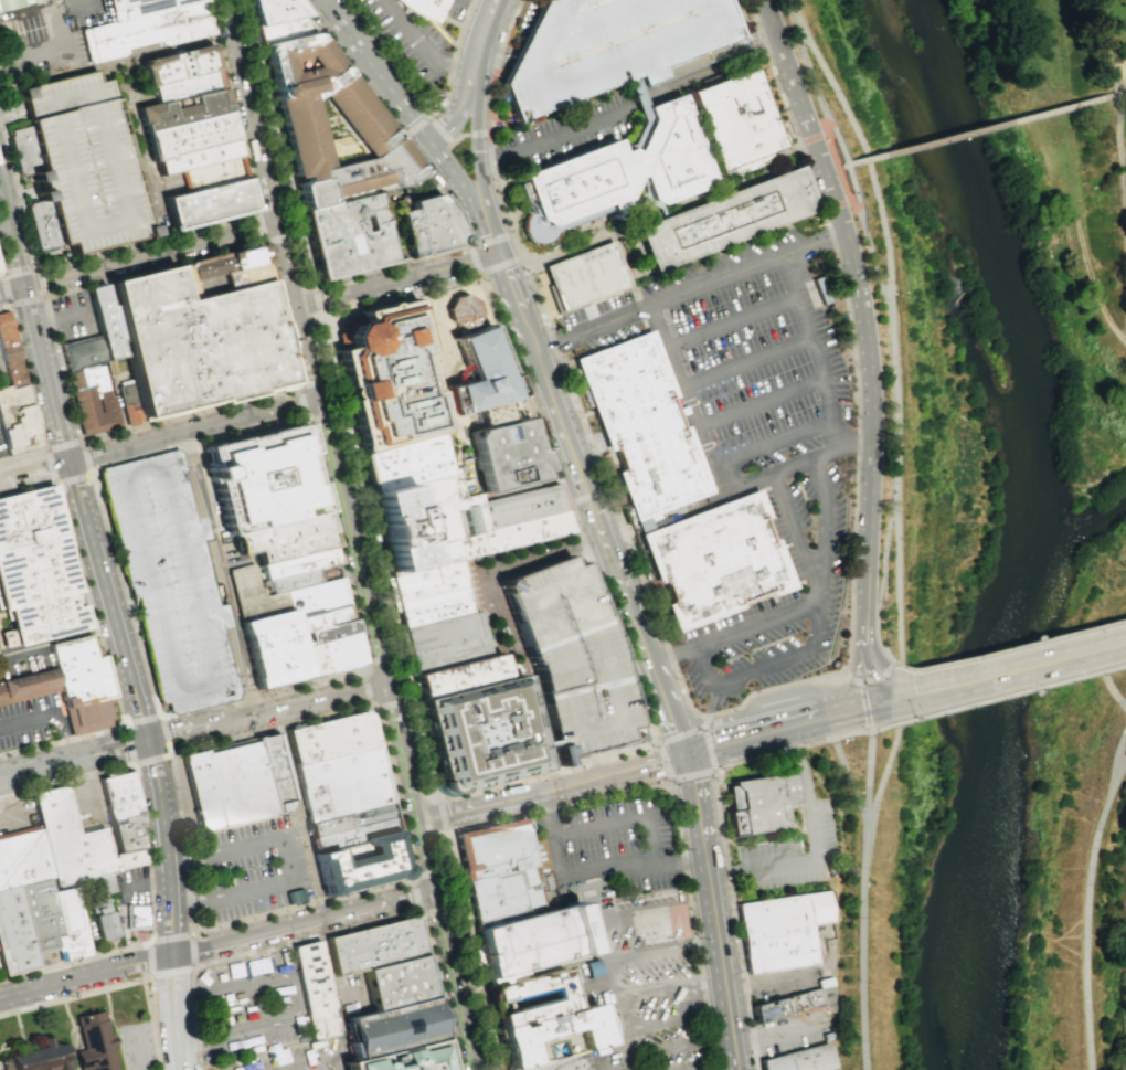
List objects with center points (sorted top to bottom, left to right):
building: (10, 2)
road: (482, 4)
road: (33, 8)
building: (145, 8)
building: (422, 8)
parking lot: (452, 9)
building: (269, 10)
parking lot: (85, 12)
road: (792, 14)
road: (214, 19)
building: (279, 29)
building: (149, 32)
road: (484, 38)
road: (762, 39)
road: (503, 40)
parking lot: (403, 41)
parking lot: (375, 44)
road: (1105, 45)
parking lot: (39, 46)
road: (422, 49)
road: (493, 49)
building: (608, 49)
parking garage: (608, 49)
road: (55, 52)
road: (117, 62)
road: (817, 62)
building: (183, 67)
road: (376, 71)
road: (809, 80)
road: (1120, 91)
building: (187, 102)
road: (630, 104)
road: (1048, 109)
road: (426, 110)
toll booth: (21, 112)
road: (254, 112)
road: (12, 113)
road: (458, 113)
road: (638, 115)
road: (431, 119)
road: (850, 119)
building: (733, 120)
road: (13, 125)
building: (367, 127)
parking lot: (567, 131)
building: (192, 136)
road: (459, 136)
road: (481, 136)
road: (500, 137)
road: (812, 138)
road: (827, 139)
road: (839, 145)
road: (913, 146)
building: (202, 158)
park: (1059, 159)
road: (868, 160)
building: (76, 165)
parking garage: (76, 165)
road: (145, 166)
road: (481, 167)
road: (496, 168)
building: (613, 173)
building: (215, 177)
road: (851, 183)
road: (1063, 184)
parking lot: (171, 187)
road: (1119, 195)
road: (469, 197)
road: (847, 198)
road: (783, 199)
road: (836, 204)
building: (212, 206)
road: (658, 210)
road: (663, 211)
building: (721, 218)
road: (261, 226)
building: (429, 226)
road: (1080, 227)
road: (6, 231)
road: (615, 231)
road: (630, 232)
building: (344, 235)
road: (12, 236)
road: (158, 237)
fountain: (404, 237)
road: (885, 240)
toll booth: (125, 244)
road: (135, 248)
road: (126, 250)
road: (153, 254)
traffic signals: (498, 255)
road: (869, 255)
building: (242, 257)
road: (1125, 257)
road: (474, 263)
road: (290, 265)
road: (1, 267)
road: (396, 267)
road: (625, 269)
building: (0, 271)
road: (1092, 271)
building: (201, 276)
building: (583, 276)
building: (241, 277)
road: (399, 280)
road: (12, 288)
building: (819, 289)
road: (687, 290)
road: (386, 299)
road: (316, 300)
road: (514, 301)
road: (10, 304)
road: (859, 306)
building: (460, 309)
road: (1104, 309)
road: (326, 311)
parking lot: (68, 316)
road: (57, 319)
road: (732, 320)
building: (103, 322)
building: (7, 331)
road: (1118, 336)
building: (196, 343)
road: (445, 343)
road: (817, 351)
building: (78, 353)
road: (312, 353)
road: (747, 361)
building: (13, 368)
parking lot: (2, 373)
building: (475, 373)
road: (49, 374)
building: (384, 374)
road: (300, 388)
park: (479, 390)
road: (32, 393)
road: (389, 398)
building: (99, 400)
road: (762, 402)
road: (301, 404)
road: (893, 406)
building: (485, 415)
road: (301, 419)
road: (448, 419)
building: (18, 422)
road: (561, 423)
building: (640, 424)
parking lot: (0, 427)
road: (161, 441)
parking lot: (753, 441)
road: (773, 442)
road: (159, 447)
parking lot: (1, 451)
parking lot: (1, 451)
road: (45, 451)
building: (504, 454)
road: (114, 459)
road: (713, 468)
building: (263, 477)
road: (194, 485)
road: (586, 498)
building: (422, 507)
building: (524, 512)
building: (665, 516)
road: (828, 518)
river: (1030, 528)
building: (284, 537)
road: (355, 541)
road: (196, 550)
road: (470, 555)
road: (881, 558)
building: (714, 562)
road: (615, 565)
building: (290, 569)
building: (35, 570)
road: (220, 574)
road: (604, 575)
building: (171, 582)
parking garage: (171, 582)
road: (606, 584)
road: (897, 585)
toll booth: (593, 589)
road: (150, 592)
building: (252, 594)
building: (427, 596)
building: (314, 597)
park: (973, 600)
road: (109, 602)
road: (210, 605)
road: (471, 608)
road: (801, 611)
building: (318, 618)
road: (495, 618)
road: (849, 622)
building: (321, 632)
road: (99, 636)
road: (875, 636)
building: (442, 643)
road: (1007, 648)
building: (269, 649)
building: (336, 651)
road: (873, 653)
building: (571, 657)
parking garage: (571, 657)
building: (306, 659)
road: (379, 660)
parking lot: (24, 661)
road: (830, 663)
road: (863, 663)
road: (891, 663)
road: (765, 664)
road: (234, 667)
road: (888, 667)
road: (1016, 667)
road: (853, 677)
road: (873, 677)
building: (455, 678)
road: (850, 678)
road: (857, 680)
building: (68, 686)
road: (897, 686)
road: (897, 691)
road: (662, 695)
road: (897, 695)
traffic signals: (906, 695)
road: (1006, 695)
road: (902, 696)
road: (897, 701)
road: (863, 704)
road: (371, 706)
road: (810, 711)
road: (268, 712)
road: (877, 712)
road: (221, 713)
road: (50, 714)
road: (192, 720)
parking lot: (30, 722)
road: (702, 723)
road: (705, 723)
building: (329, 737)
building: (479, 737)
road: (679, 737)
road: (708, 737)
road: (776, 737)
road: (544, 748)
road: (709, 750)
road: (403, 752)
road: (1122, 753)
traffic signals: (688, 755)
road: (73, 759)
road: (607, 759)
road: (1122, 761)
road: (596, 762)
road: (665, 762)
road: (132, 764)
road: (649, 765)
road: (567, 767)
road: (845, 774)
road: (693, 775)
road: (882, 775)
building: (258, 776)
road: (287, 776)
road: (865, 776)
building: (340, 783)
building: (217, 787)
building: (196, 792)
road: (516, 798)
road: (9, 799)
building: (758, 803)
road: (697, 805)
road: (677, 809)
road: (442, 814)
parking lot: (15, 817)
building: (349, 818)
building: (119, 819)
road: (622, 822)
road: (720, 831)
building: (65, 841)
building: (491, 843)
parking lot: (620, 844)
parking lot: (790, 845)
road: (167, 846)
road: (812, 848)
road: (306, 856)
road: (427, 856)
building: (354, 857)
road: (149, 862)
road: (288, 864)
parking lot: (240, 871)
road: (589, 872)
road: (148, 884)
parking lot: (134, 887)
building: (508, 887)
road: (415, 893)
building: (294, 896)
building: (34, 910)
road: (655, 914)
building: (136, 915)
road: (1084, 915)
road: (304, 923)
building: (104, 924)
road: (443, 924)
road: (602, 930)
building: (779, 931)
road: (200, 932)
road: (332, 932)
building: (525, 944)
building: (370, 945)
road: (859, 946)
road: (661, 949)
road: (467, 953)
road: (255, 958)
road: (720, 963)
road: (189, 967)
road: (85, 975)
parking lot: (0, 976)
road: (147, 977)
road: (612, 978)
building: (395, 982)
parking lot: (655, 982)
road: (768, 982)
parking lot: (779, 983)
road: (116, 984)
building: (314, 989)
parking lot: (347, 993)
road: (639, 994)
road: (331, 996)
building: (530, 996)
road: (295, 997)
building: (795, 1002)
road: (173, 1011)
road: (464, 1014)
parking lot: (257, 1018)
road: (674, 1019)
road: (114, 1028)
building: (389, 1028)
parking lot: (792, 1030)
road: (71, 1032)
road: (19, 1034)
road: (774, 1035)
building: (550, 1036)
building: (95, 1042)
parking lot: (137, 1046)
road: (672, 1046)
road: (270, 1049)
road: (139, 1051)
building: (39, 1056)
building: (404, 1059)
building: (800, 1059)
road: (627, 1062)
road: (302, 1063)
building: (556, 1063)
road: (689, 1067)

